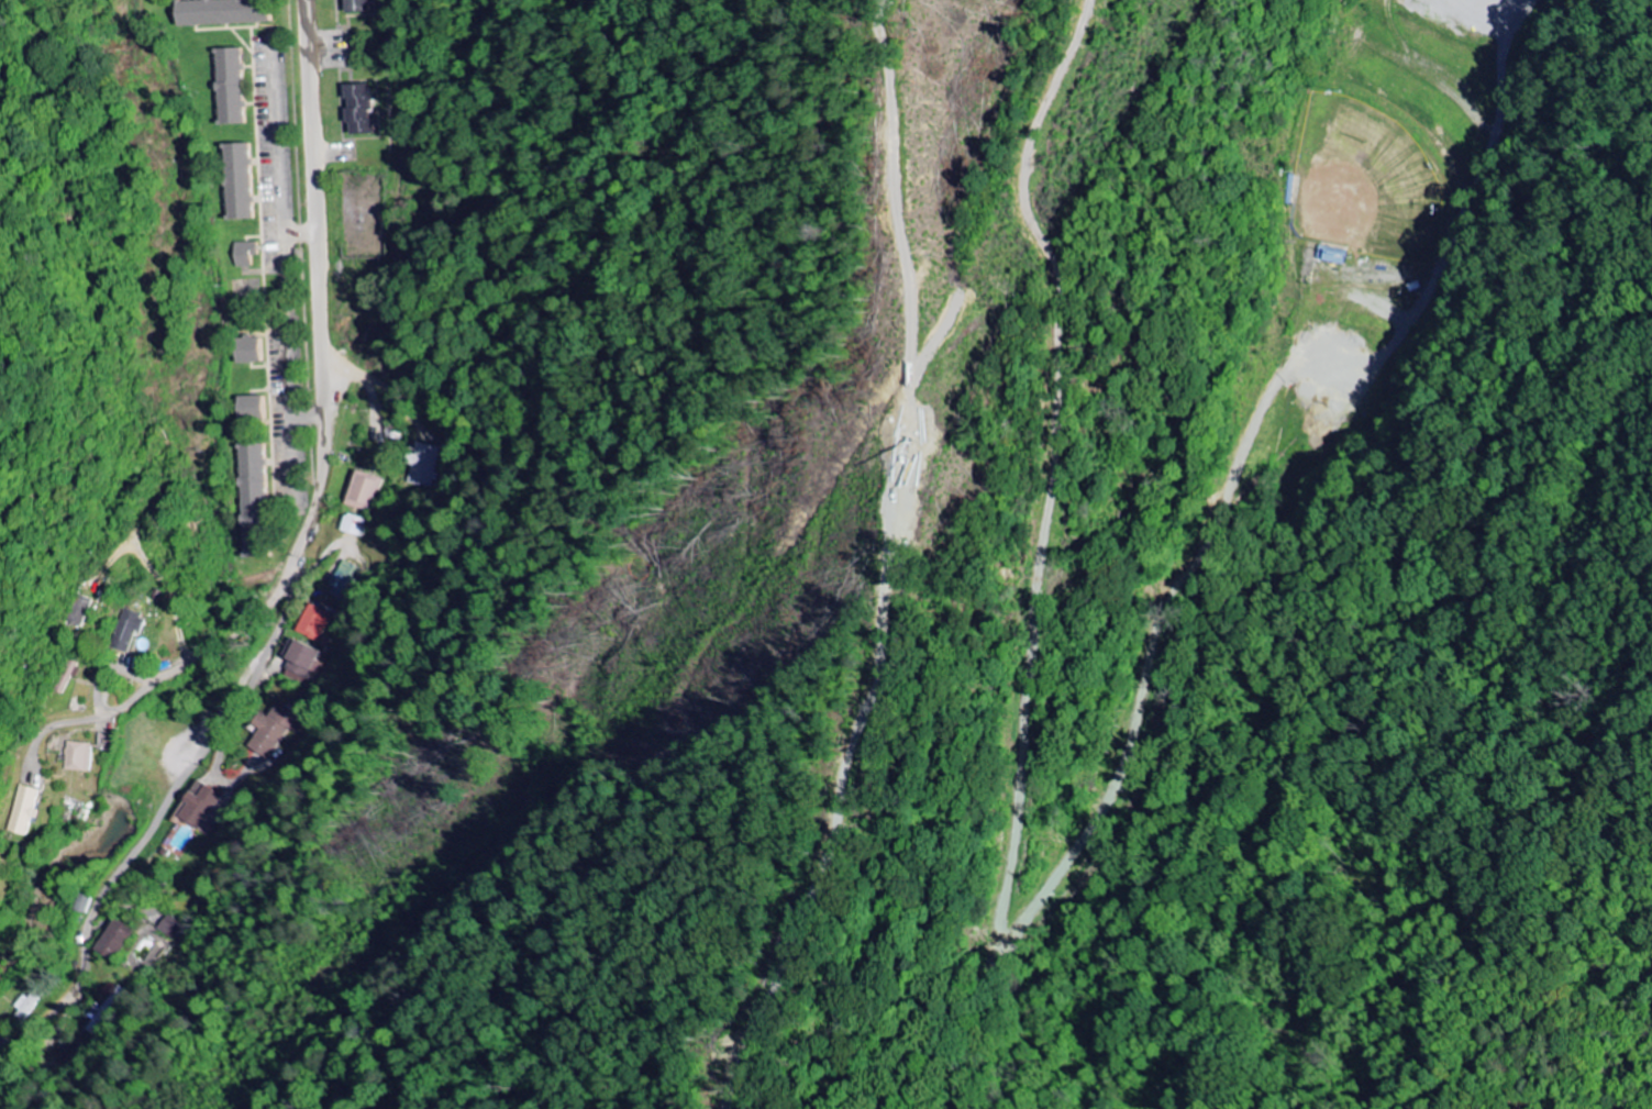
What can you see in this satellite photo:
building: (355, 7)
building: (218, 13)
road: (1507, 51)
building: (229, 88)
building: (356, 111)
building: (237, 184)
building: (245, 255)
building: (1331, 258)
building: (262, 353)
building: (264, 409)
power tower: (906, 413)
building: (265, 474)
building: (364, 491)
building: (355, 526)
building: (347, 581)
road: (291, 589)
building: (317, 623)
building: (307, 655)
building: (80, 756)
building: (200, 807)
building: (29, 809)
building: (174, 929)
building: (121, 940)

